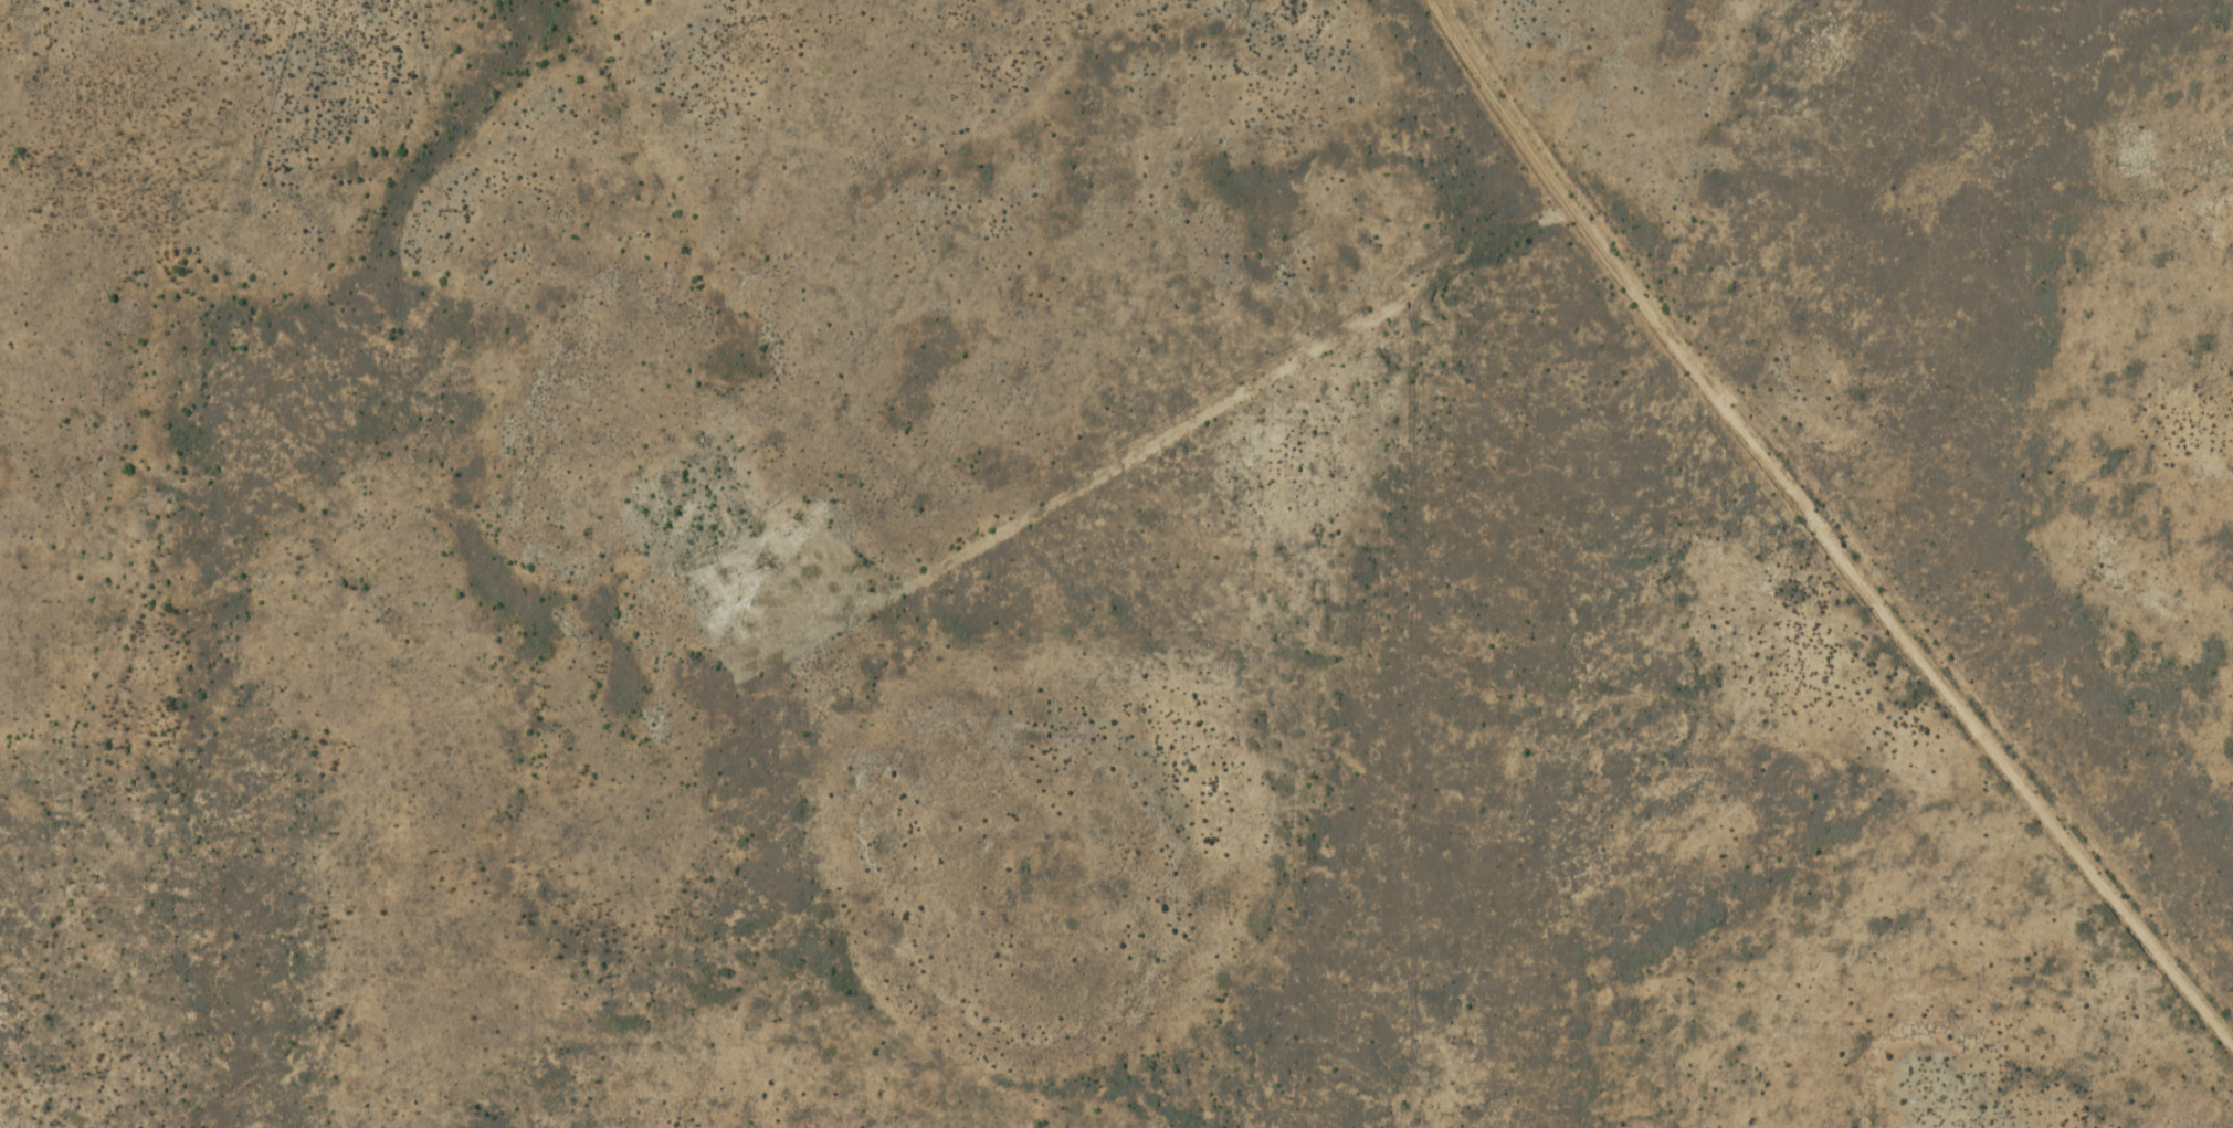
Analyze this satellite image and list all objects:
road: (1158, 435)
road: (1830, 524)

